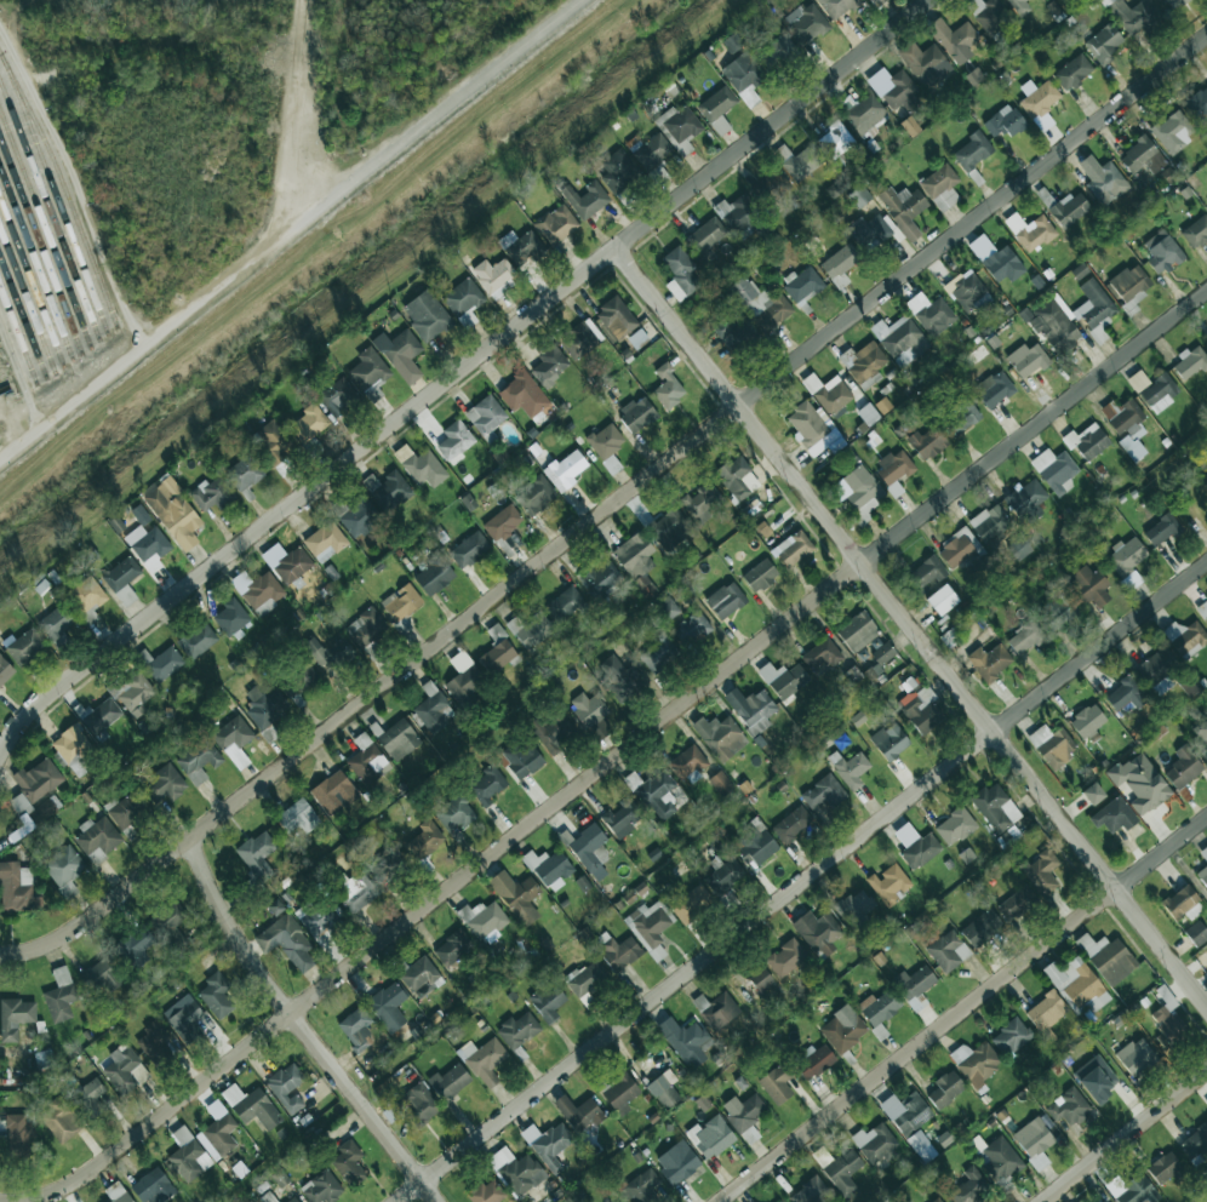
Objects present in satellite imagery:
building: (1174, 2)
building: (1019, 6)
building: (837, 7)
building: (989, 15)
building: (1134, 15)
building: (807, 25)
building: (954, 38)
building: (732, 42)
building: (1104, 44)
building: (777, 51)
building: (926, 63)
building: (1072, 71)
building: (744, 76)
building: (898, 91)
building: (1039, 97)
building: (716, 103)
building: (1197, 103)
building: (865, 114)
road: (278, 116)
building: (7, 118)
building: (1005, 122)
building: (679, 124)
building: (909, 126)
building: (1173, 131)
building: (835, 141)
building: (651, 150)
building: (972, 151)
building: (1142, 156)
building: (802, 162)
building: (618, 171)
building: (939, 181)
building: (1106, 184)
railway: (64, 188)
building: (770, 188)
railway: (53, 194)
building: (585, 199)
building: (903, 208)
building: (1070, 208)
railway: (48, 210)
building: (50, 213)
building: (744, 216)
building: (556, 224)
railway: (45, 228)
building: (869, 231)
building: (1031, 231)
building: (1196, 231)
building: (707, 234)
road: (296, 235)
railway: (40, 246)
building: (521, 246)
building: (1162, 251)
building: (995, 259)
railway: (35, 264)
building: (65, 264)
building: (840, 264)
building: (1080, 270)
building: (680, 273)
building: (492, 274)
railway: (32, 284)
building: (803, 285)
building: (1131, 285)
building: (42, 288)
building: (968, 292)
building: (463, 297)
railway: (27, 300)
building: (761, 303)
building: (1093, 304)
building: (427, 315)
building: (934, 316)
building: (616, 317)
railway: (23, 319)
building: (1053, 326)
building: (734, 333)
railway: (18, 337)
building: (900, 337)
building: (580, 338)
building: (400, 354)
building: (1028, 360)
building: (1190, 362)
building: (866, 366)
building: (549, 367)
building: (370, 373)
road: (459, 373)
building: (668, 387)
building: (994, 389)
building: (1160, 393)
building: (522, 394)
building: (831, 395)
building: (338, 397)
building: (637, 413)
building: (868, 413)
building: (486, 417)
building: (962, 418)
building: (309, 424)
building: (1126, 425)
building: (813, 429)
building: (454, 440)
building: (271, 441)
building: (605, 441)
building: (1087, 441)
building: (927, 442)
building: (424, 468)
building: (894, 469)
building: (565, 470)
building: (1054, 470)
building: (244, 474)
building: (1206, 477)
building: (737, 479)
building: (388, 490)
building: (863, 491)
building: (211, 494)
building: (536, 496)
building: (1026, 500)
building: (468, 502)
building: (700, 504)
road: (608, 509)
building: (173, 513)
building: (356, 516)
building: (502, 522)
building: (989, 522)
building: (669, 528)
building: (1161, 530)
building: (325, 542)
building: (148, 546)
building: (957, 546)
building: (793, 548)
building: (1019, 548)
building: (469, 549)
building: (634, 555)
building: (1126, 556)
building: (288, 563)
building: (926, 572)
building: (434, 576)
building: (760, 576)
building: (122, 578)
building: (602, 579)
building: (1088, 585)
building: (258, 591)
building: (85, 596)
building: (942, 599)
building: (725, 600)
building: (401, 602)
building: (565, 605)
building: (667, 608)
building: (1203, 609)
building: (1058, 612)
building: (231, 618)
building: (57, 625)
road: (913, 626)
building: (366, 628)
building: (692, 629)
building: (531, 630)
building: (857, 631)
building: (1024, 637)
building: (1185, 637)
building: (196, 640)
building: (25, 646)
building: (327, 652)
building: (658, 653)
building: (882, 653)
building: (820, 656)
building: (497, 657)
building: (989, 662)
building: (160, 663)
building: (1156, 666)
building: (5, 670)
building: (302, 675)
building: (619, 679)
building: (783, 679)
building: (131, 692)
building: (1125, 697)
building: (433, 708)
building: (589, 709)
building: (751, 709)
building: (921, 709)
building: (265, 710)
building: (102, 716)
building: (1087, 721)
building: (553, 732)
building: (721, 737)
building: (1201, 738)
building: (399, 739)
building: (234, 740)
building: (889, 740)
building: (1052, 744)
building: (73, 750)
building: (521, 759)
building: (198, 760)
road: (618, 760)
building: (690, 763)
building: (1183, 767)
building: (850, 768)
building: (38, 779)
building: (1140, 782)
building: (720, 783)
building: (164, 784)
building: (486, 785)
building: (333, 792)
building: (654, 792)
building: (824, 792)
building: (1092, 794)
building: (995, 807)
building: (30, 811)
building: (126, 812)
building: (454, 813)
building: (1114, 815)
building: (298, 817)
building: (622, 817)
building: (791, 824)
building: (955, 825)
building: (1009, 835)
building: (98, 838)
building: (424, 840)
building: (755, 845)
building: (916, 846)
building: (590, 851)
building: (1203, 853)
building: (257, 854)
building: (388, 865)
building: (549, 868)
building: (64, 869)
building: (1040, 872)
building: (723, 875)
building: (1202, 875)
road: (803, 882)
building: (889, 883)
building: (17, 887)
building: (356, 892)
building: (516, 895)
building: (691, 903)
building: (1017, 903)
building: (1183, 904)
building: (854, 909)
building: (320, 920)
building: (484, 920)
building: (170, 923)
building: (650, 926)
building: (982, 928)
building: (818, 932)
building: (1196, 933)
building: (287, 941)
building: (135, 946)
building: (452, 948)
building: (618, 951)
building: (948, 951)
building: (785, 957)
building: (1108, 957)
building: (418, 973)
building: (102, 975)
building: (760, 977)
building: (585, 978)
building: (1076, 983)
building: (916, 986)
building: (59, 995)
building: (216, 995)
building: (548, 1001)
building: (388, 1007)
building: (717, 1011)
building: (879, 1011)
road: (965, 1011)
building: (1046, 1013)
building: (15, 1018)
building: (183, 1018)
building: (1168, 1021)
building: (356, 1029)
road: (303, 1030)
building: (517, 1030)
building: (843, 1030)
building: (1011, 1037)
building: (686, 1041)
building: (154, 1042)
building: (1136, 1055)
building: (44, 1059)
building: (482, 1060)
building: (813, 1060)
building: (976, 1061)
building: (125, 1070)
building: (1096, 1077)
building: (448, 1082)
building: (776, 1084)
building: (287, 1087)
building: (945, 1088)
building: (664, 1089)
building: (619, 1092)
building: (88, 1098)
building: (418, 1104)
building: (251, 1106)
building: (1068, 1107)
building: (743, 1111)
building: (578, 1112)
building: (906, 1112)
building: (61, 1120)
building: (19, 1132)
building: (217, 1137)
building: (710, 1137)
road: (1125, 1137)
building: (1034, 1140)
building: (1195, 1141)
building: (875, 1143)
building: (548, 1144)
building: (921, 1145)
building: (188, 1161)
building: (999, 1161)
building: (348, 1162)
building: (677, 1162)
building: (1165, 1167)
building: (516, 1170)
building: (842, 1172)
building: (153, 1186)
building: (969, 1186)
building: (322, 1187)
building: (639, 1187)
building: (1134, 1190)
building: (810, 1191)
building: (116, 1192)
building: (487, 1192)
building: (268, 1197)
building: (293, 1200)
building: (780, 1201)
building: (938, 1201)
building: (1080, 1201)
building: (1103, 1201)

